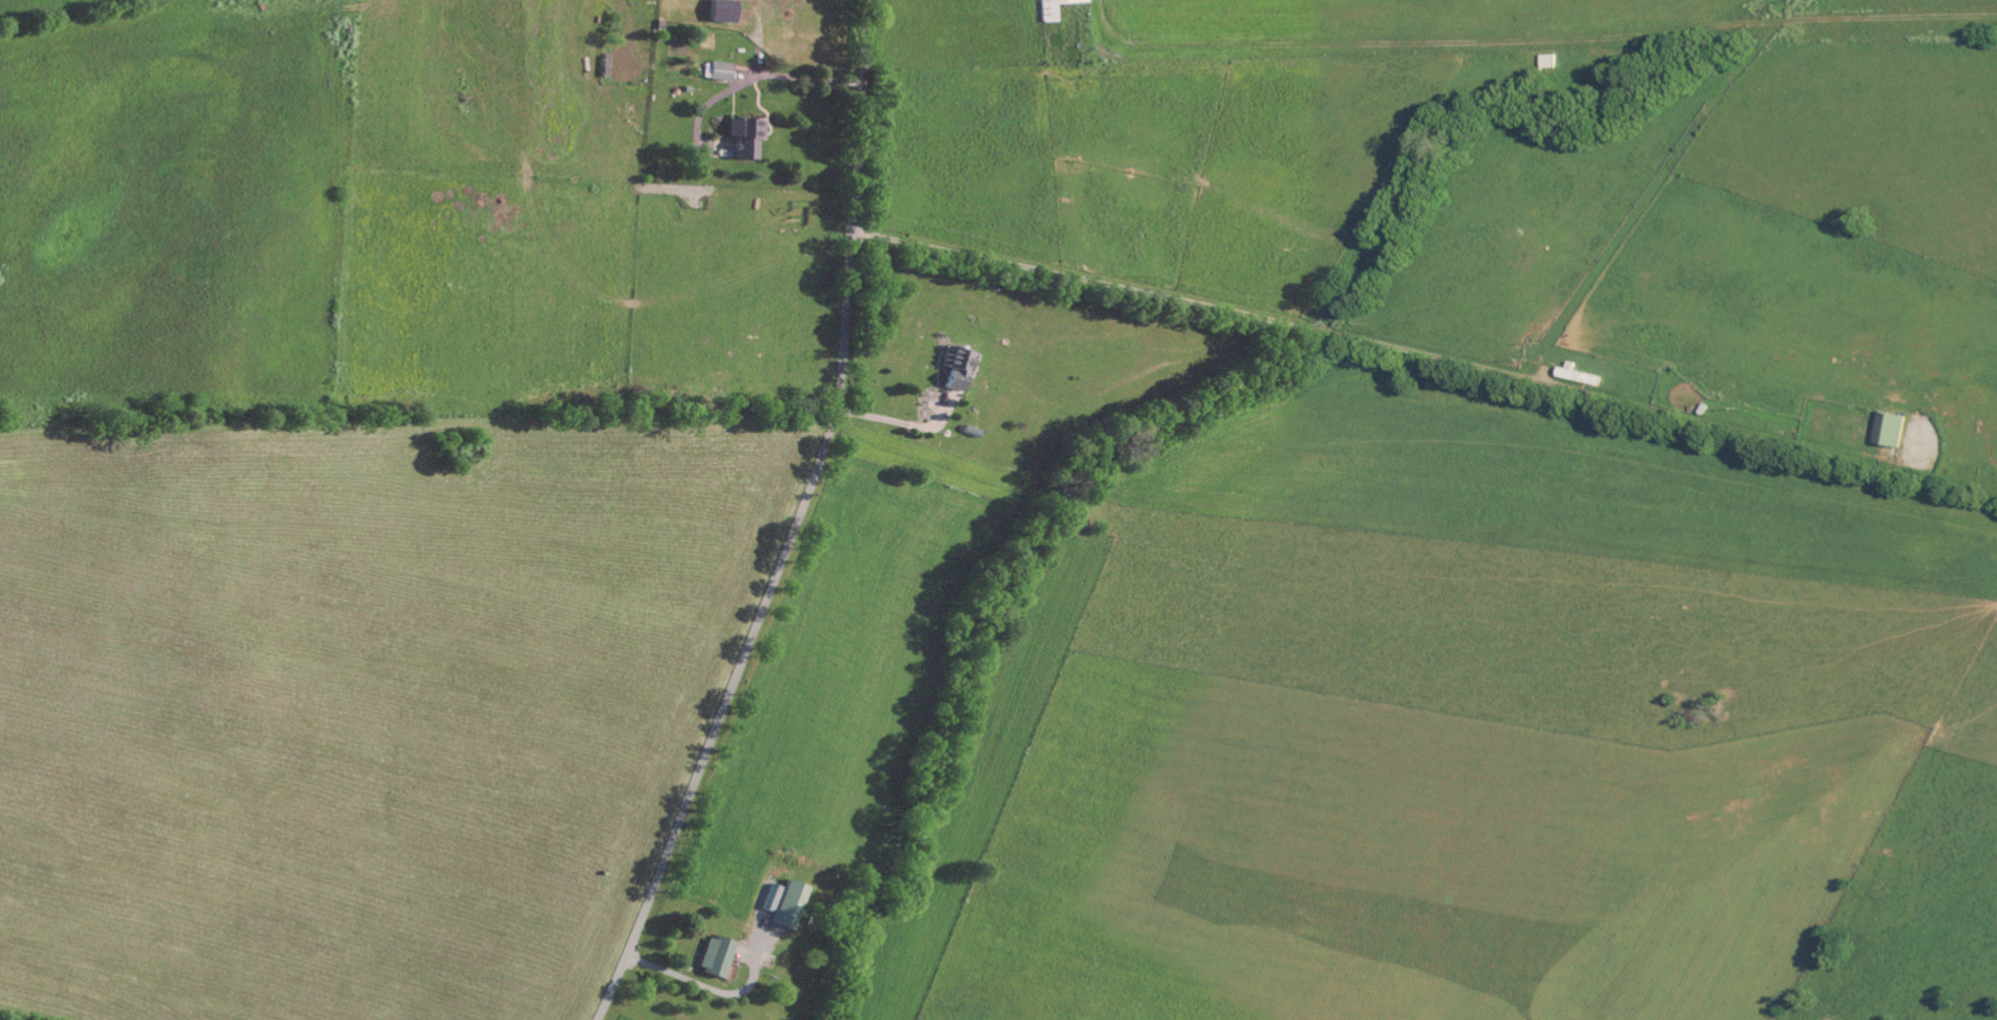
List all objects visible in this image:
building: (1057, 8)
building: (725, 12)
building: (1549, 62)
building: (723, 72)
building: (750, 139)
road: (1196, 299)
building: (958, 367)
building: (1579, 377)
building: (1890, 431)
road: (797, 524)
building: (772, 897)
building: (790, 904)
building: (717, 956)
road: (704, 984)

